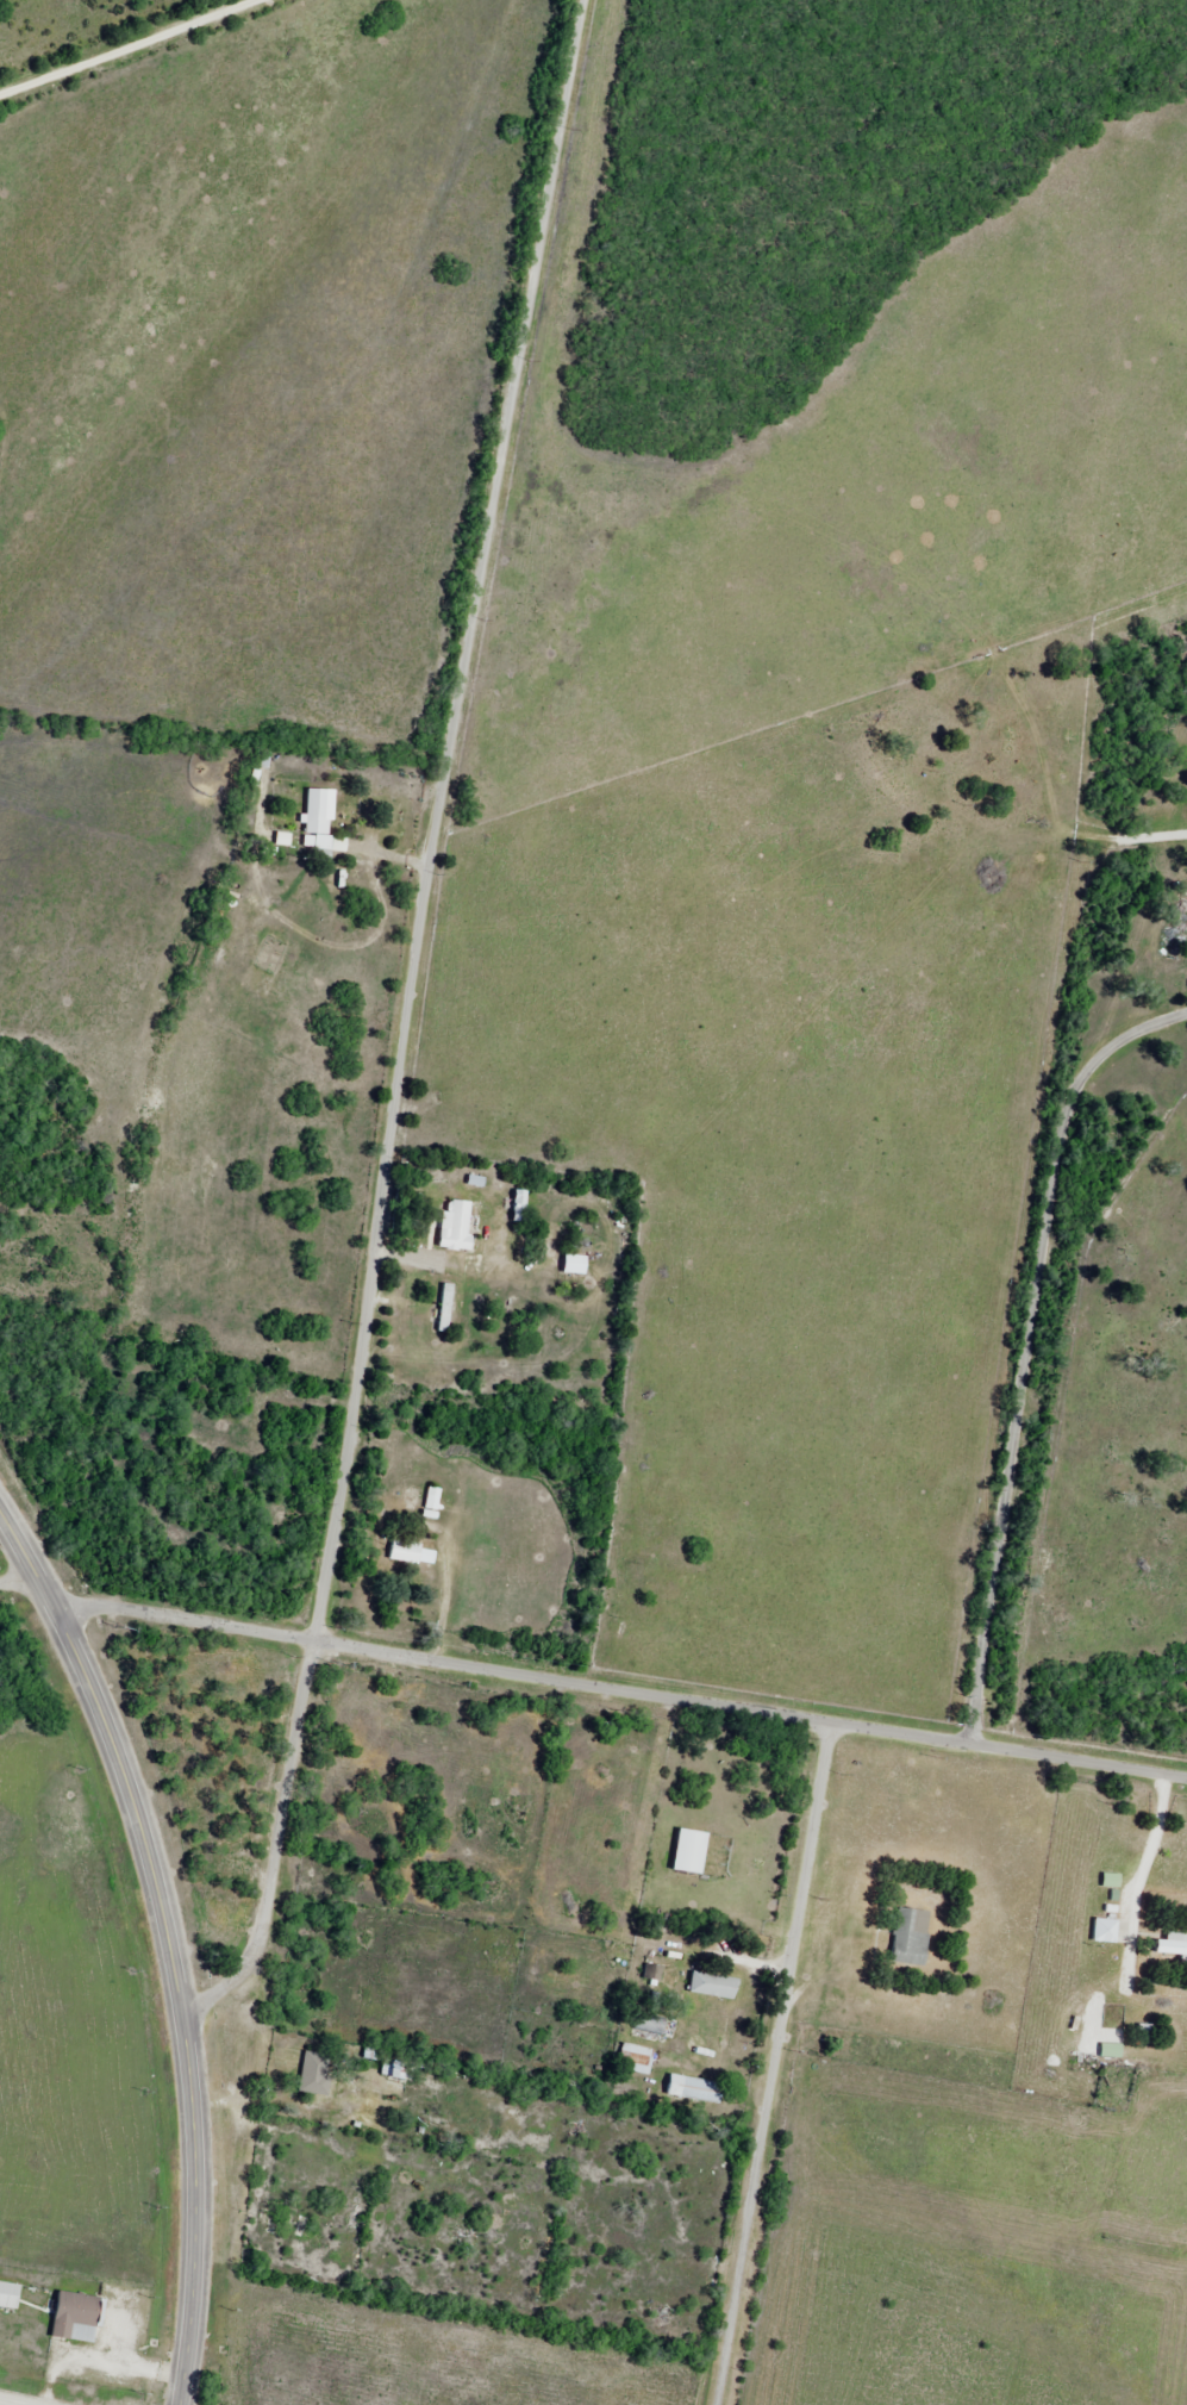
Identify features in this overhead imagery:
road: (80, 29)
road: (646, 773)
road: (400, 1024)
road: (1026, 1333)
road: (20, 1590)
road: (433, 1665)
road: (1007, 1753)
building: (694, 1851)
building: (1111, 1931)
road: (163, 1950)
building: (717, 1986)
road: (771, 2066)
road: (13, 2401)

